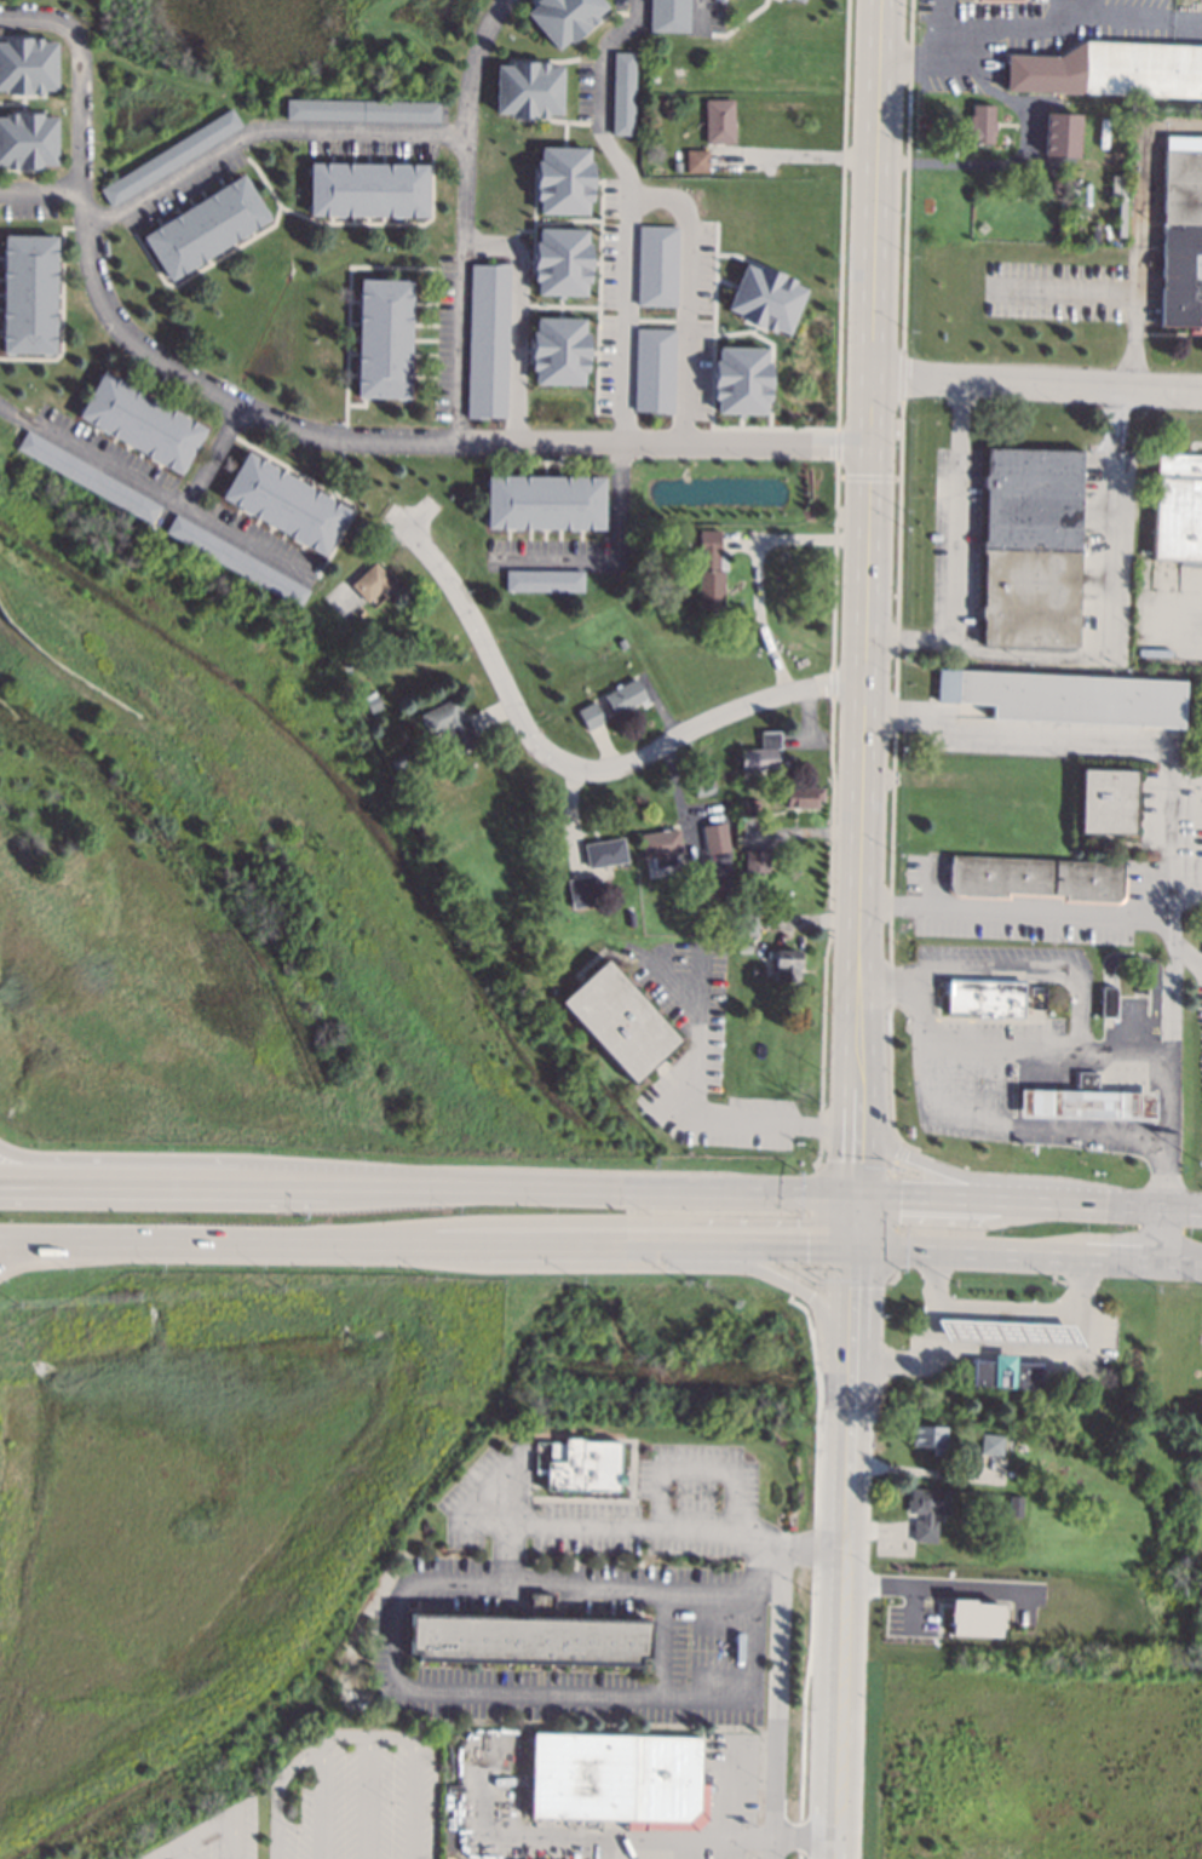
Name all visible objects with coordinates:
building: (799, 0)
building: (1006, 0)
road: (1085, 5)
building: (668, 15)
road: (700, 17)
building: (564, 18)
road: (949, 28)
road: (1022, 28)
building: (27, 65)
building: (1112, 68)
building: (528, 90)
building: (621, 93)
building: (362, 109)
building: (719, 120)
building: (979, 125)
road: (260, 132)
building: (1060, 133)
building: (27, 142)
building: (169, 156)
building: (696, 160)
road: (1020, 161)
building: (679, 165)
building: (562, 180)
building: (1056, 184)
building: (367, 189)
road: (1145, 191)
road: (41, 194)
road: (627, 208)
road: (461, 212)
building: (206, 226)
building: (983, 226)
building: (1181, 240)
building: (560, 262)
building: (656, 265)
building: (29, 293)
road: (684, 298)
building: (765, 298)
road: (517, 316)
building: (384, 338)
building: (479, 340)
road: (1134, 346)
building: (558, 350)
building: (654, 369)
building: (741, 380)
road: (1033, 385)
road: (288, 420)
building: (142, 421)
road: (218, 458)
building: (88, 476)
road: (156, 490)
building: (668, 492)
building: (284, 501)
building: (545, 501)
building: (1178, 506)
building: (1030, 545)
road: (612, 551)
road: (953, 555)
building: (237, 560)
road: (864, 560)
building: (706, 568)
road: (755, 574)
building: (544, 579)
building: (373, 581)
road: (1103, 597)
building: (361, 612)
building: (337, 638)
building: (621, 642)
building: (369, 677)
building: (625, 695)
building: (1065, 696)
building: (372, 701)
building: (590, 715)
building: (445, 717)
building: (399, 735)
road: (1097, 736)
road: (534, 747)
building: (759, 752)
building: (398, 759)
road: (1185, 780)
building: (703, 787)
building: (801, 794)
building: (988, 796)
building: (1106, 801)
building: (750, 807)
building: (740, 822)
building: (714, 838)
building: (660, 842)
building: (605, 853)
building: (663, 860)
building: (755, 860)
building: (1035, 878)
building: (708, 887)
building: (582, 889)
road: (1185, 897)
road: (1077, 914)
building: (629, 918)
building: (747, 923)
building: (743, 946)
road: (1184, 958)
building: (783, 963)
building: (757, 969)
building: (985, 997)
building: (1108, 1000)
road: (1082, 1002)
building: (620, 1020)
road: (1002, 1042)
building: (1086, 1100)
road: (702, 1115)
road: (988, 1119)
road: (194, 1158)
road: (853, 1158)
road: (989, 1177)
road: (362, 1184)
road: (789, 1194)
traffic signals: (853, 1197)
road: (995, 1200)
road: (1169, 1206)
road: (593, 1220)
road: (950, 1221)
road: (852, 1222)
road: (1160, 1234)
road: (172, 1240)
road: (598, 1245)
road: (31, 1246)
traffic signals: (852, 1247)
road: (1026, 1255)
road: (631, 1264)
road: (794, 1287)
road: (1002, 1309)
road: (850, 1316)
building: (996, 1331)
road: (908, 1361)
building: (1005, 1373)
building: (928, 1438)
building: (989, 1444)
building: (1006, 1444)
building: (1020, 1446)
building: (576, 1462)
road: (695, 1468)
road: (919, 1469)
road: (489, 1493)
parking lot: (612, 1504)
building: (1013, 1505)
building: (925, 1510)
road: (645, 1525)
road: (811, 1551)
building: (974, 1573)
road: (615, 1583)
road: (927, 1587)
building: (1035, 1599)
building: (925, 1614)
building: (974, 1618)
road: (841, 1622)
building: (528, 1639)
road: (662, 1639)
parking lot: (708, 1641)
building: (995, 1641)
road: (517, 1688)
road: (776, 1688)
building: (361, 1703)
road: (358, 1734)
building: (619, 1779)
road: (727, 1785)
road: (367, 1797)
parking lot: (361, 1802)
road: (321, 1805)
parking lot: (714, 1811)
road: (689, 1836)
road: (799, 1836)
road: (191, 1837)
road: (229, 1837)
parking lot: (228, 1843)
road: (773, 1848)
road: (183, 1851)
road: (798, 1855)

